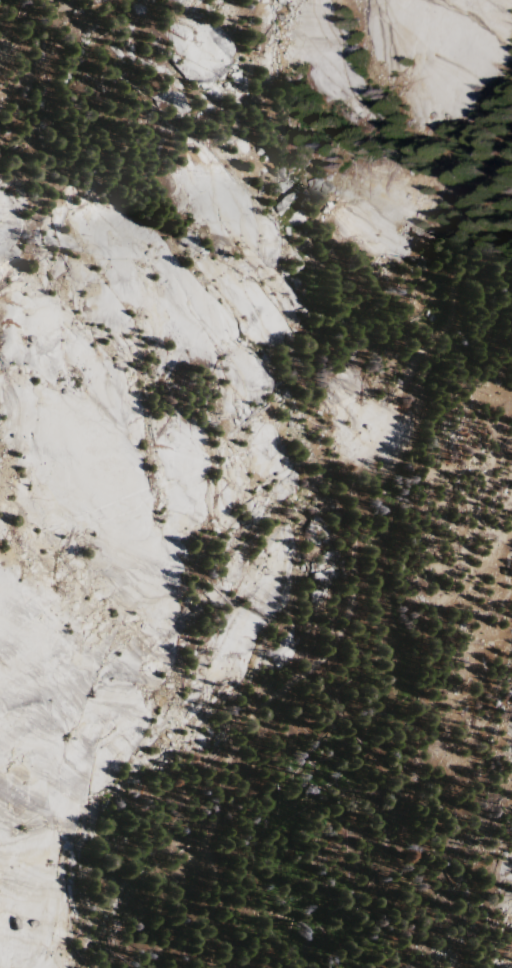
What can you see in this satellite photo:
road: (352, 562)

